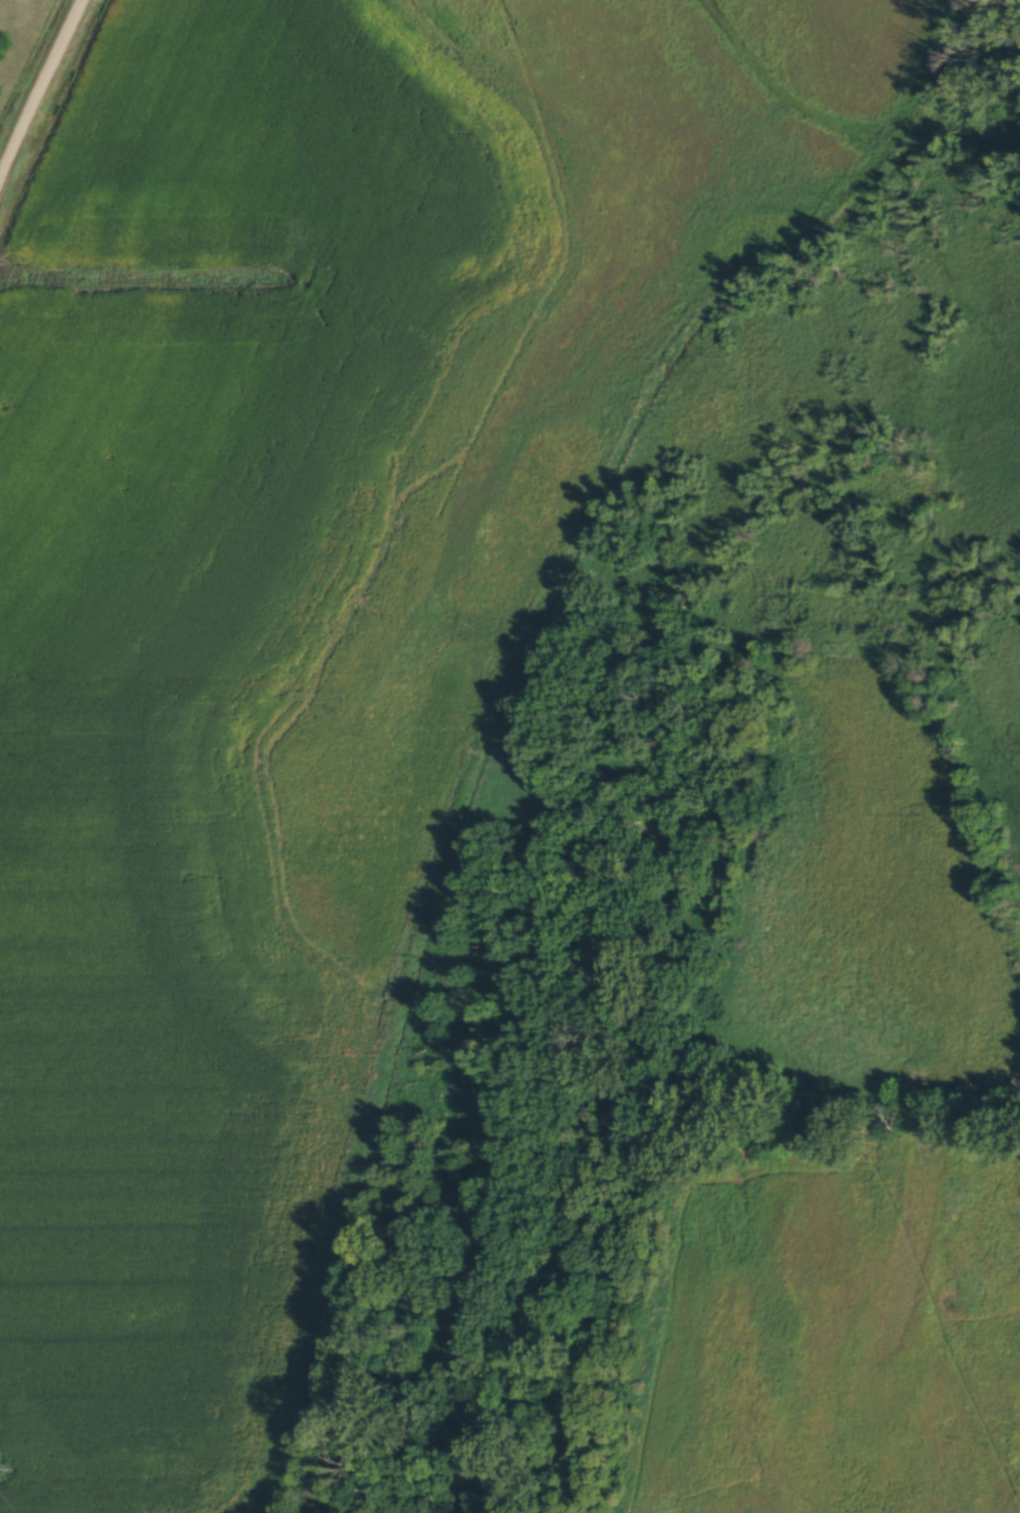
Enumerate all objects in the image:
road: (40, 86)

